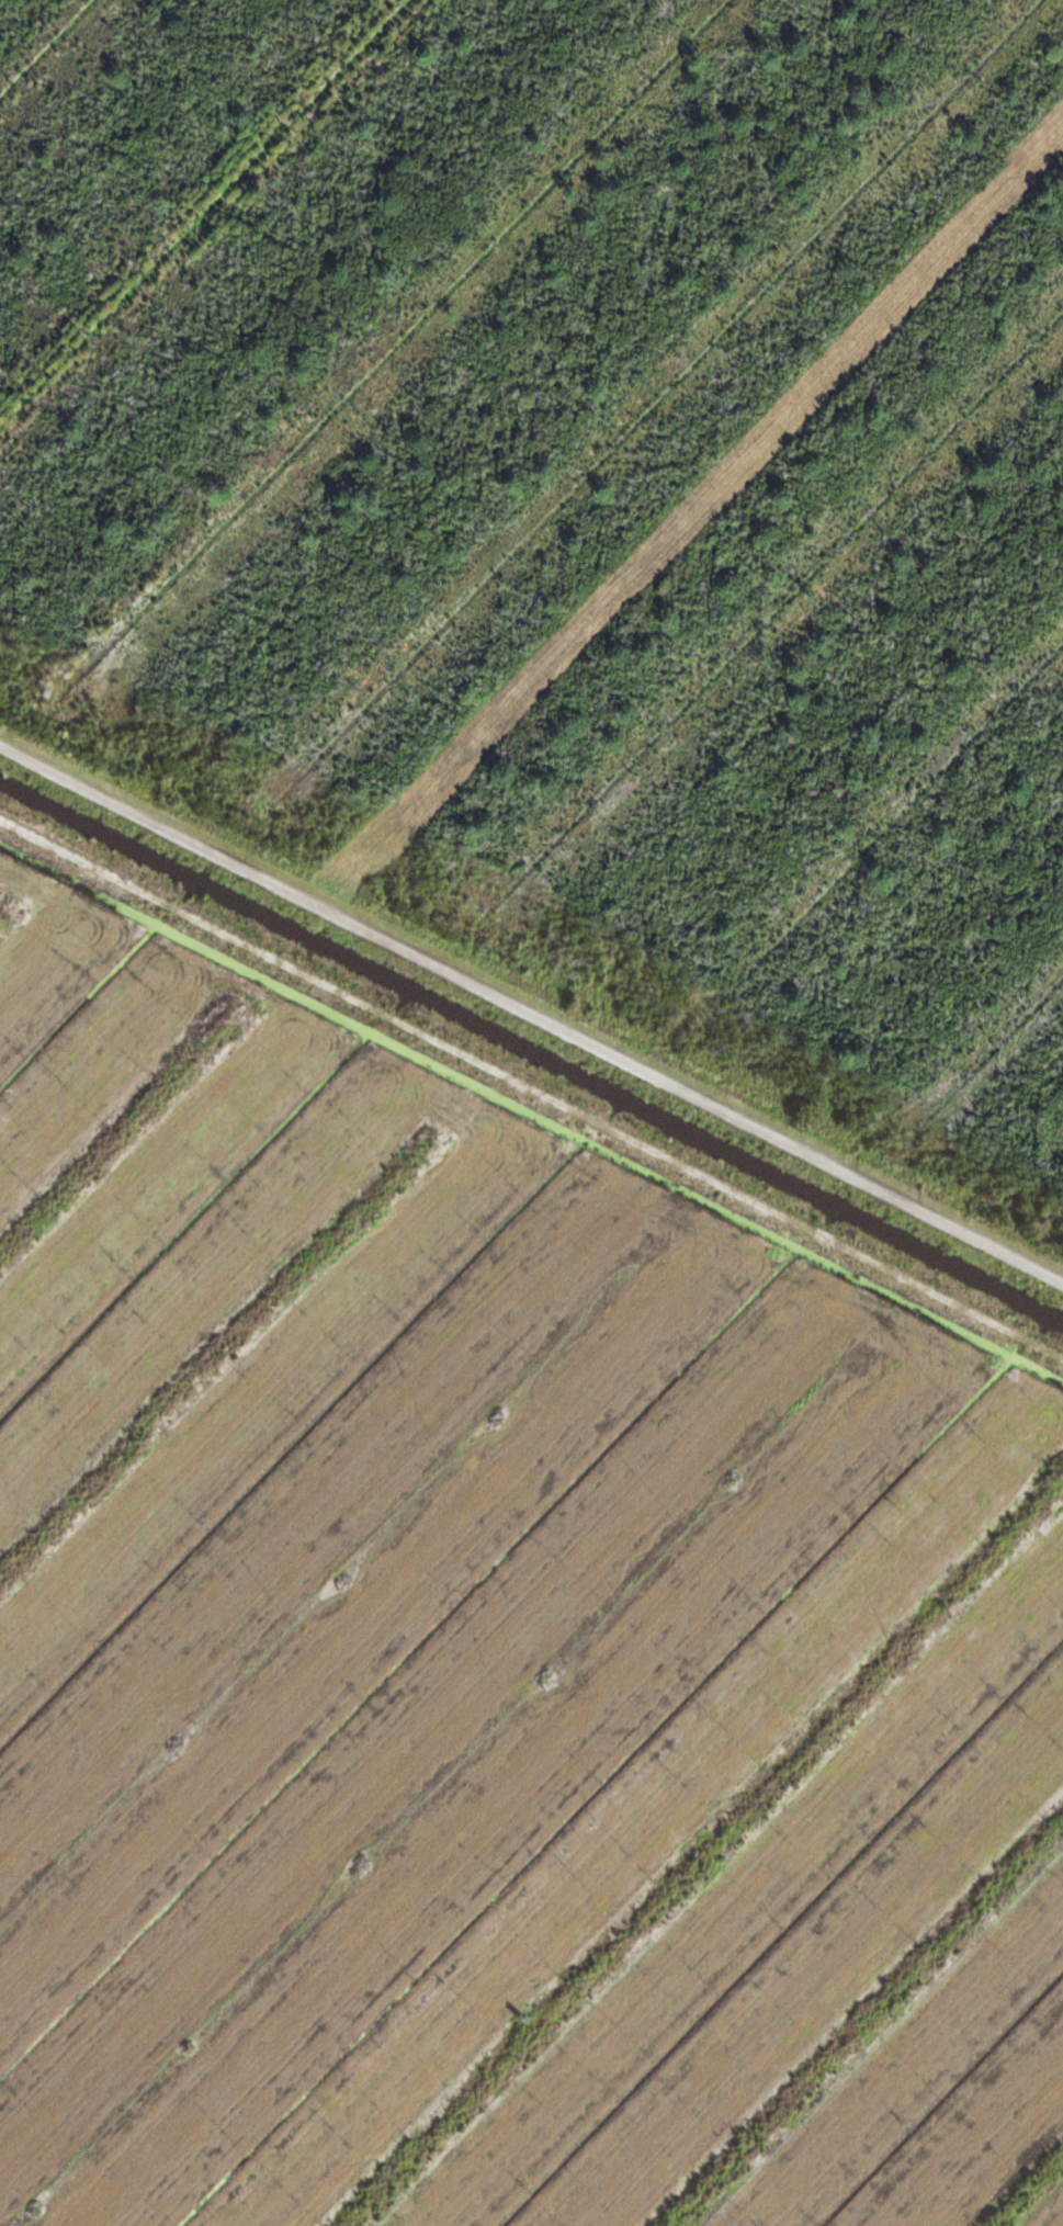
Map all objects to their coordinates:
road: (531, 1024)

